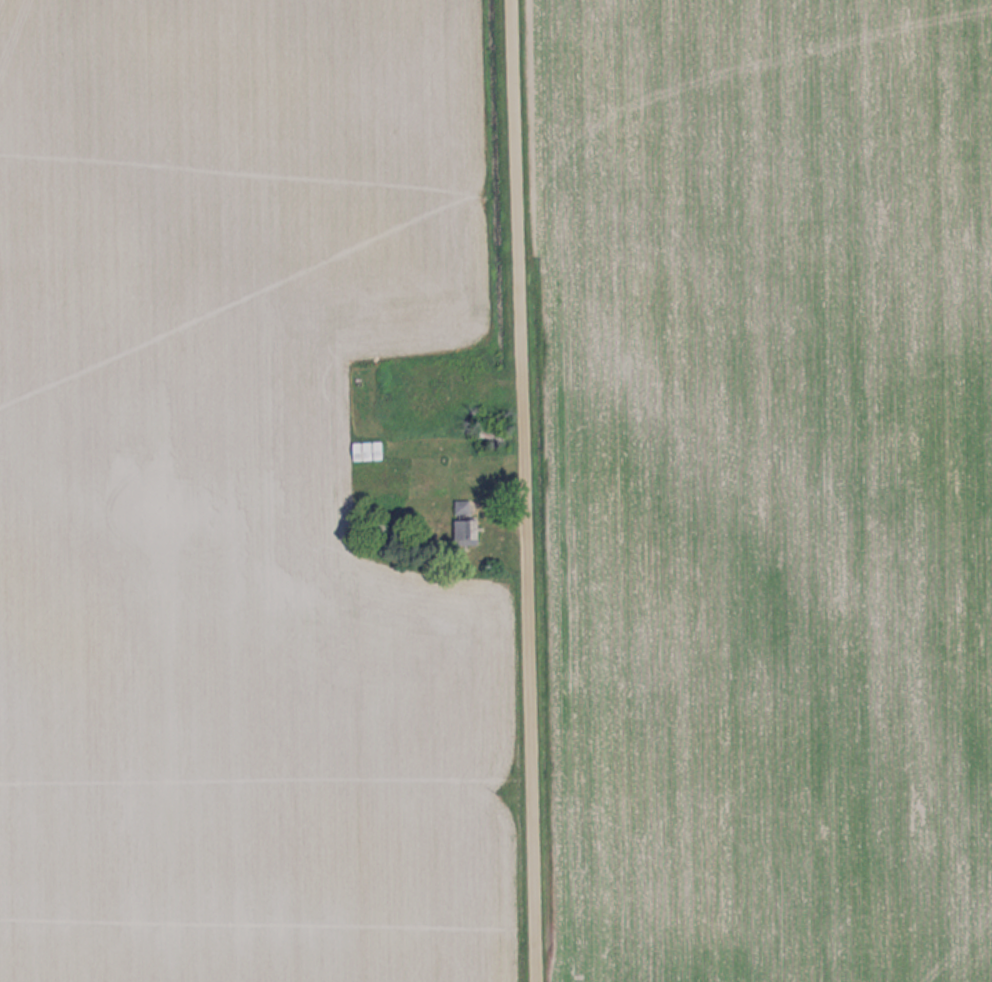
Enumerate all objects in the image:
building: (366, 450)
road: (516, 491)
building: (465, 522)

